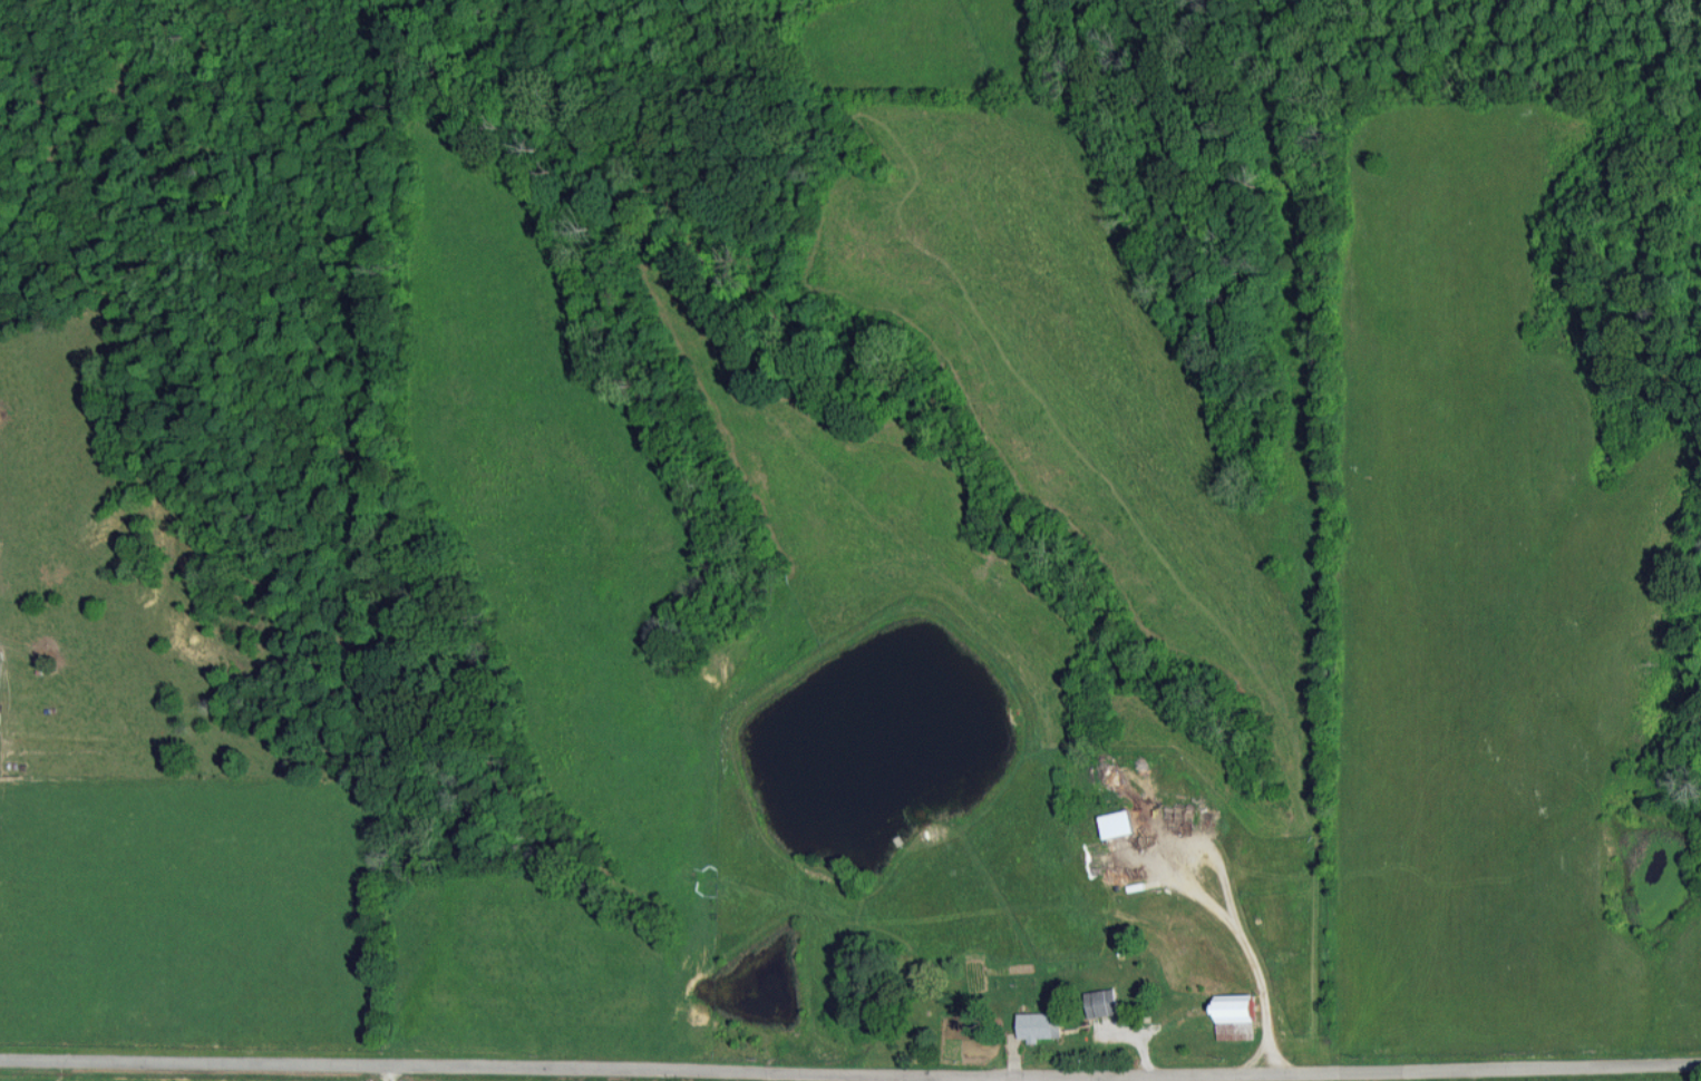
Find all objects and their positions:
building: (1115, 824)
building: (1100, 1002)
building: (1232, 1007)
building: (1038, 1025)
road: (453, 1060)
road: (1598, 1063)
road: (1363, 1072)

